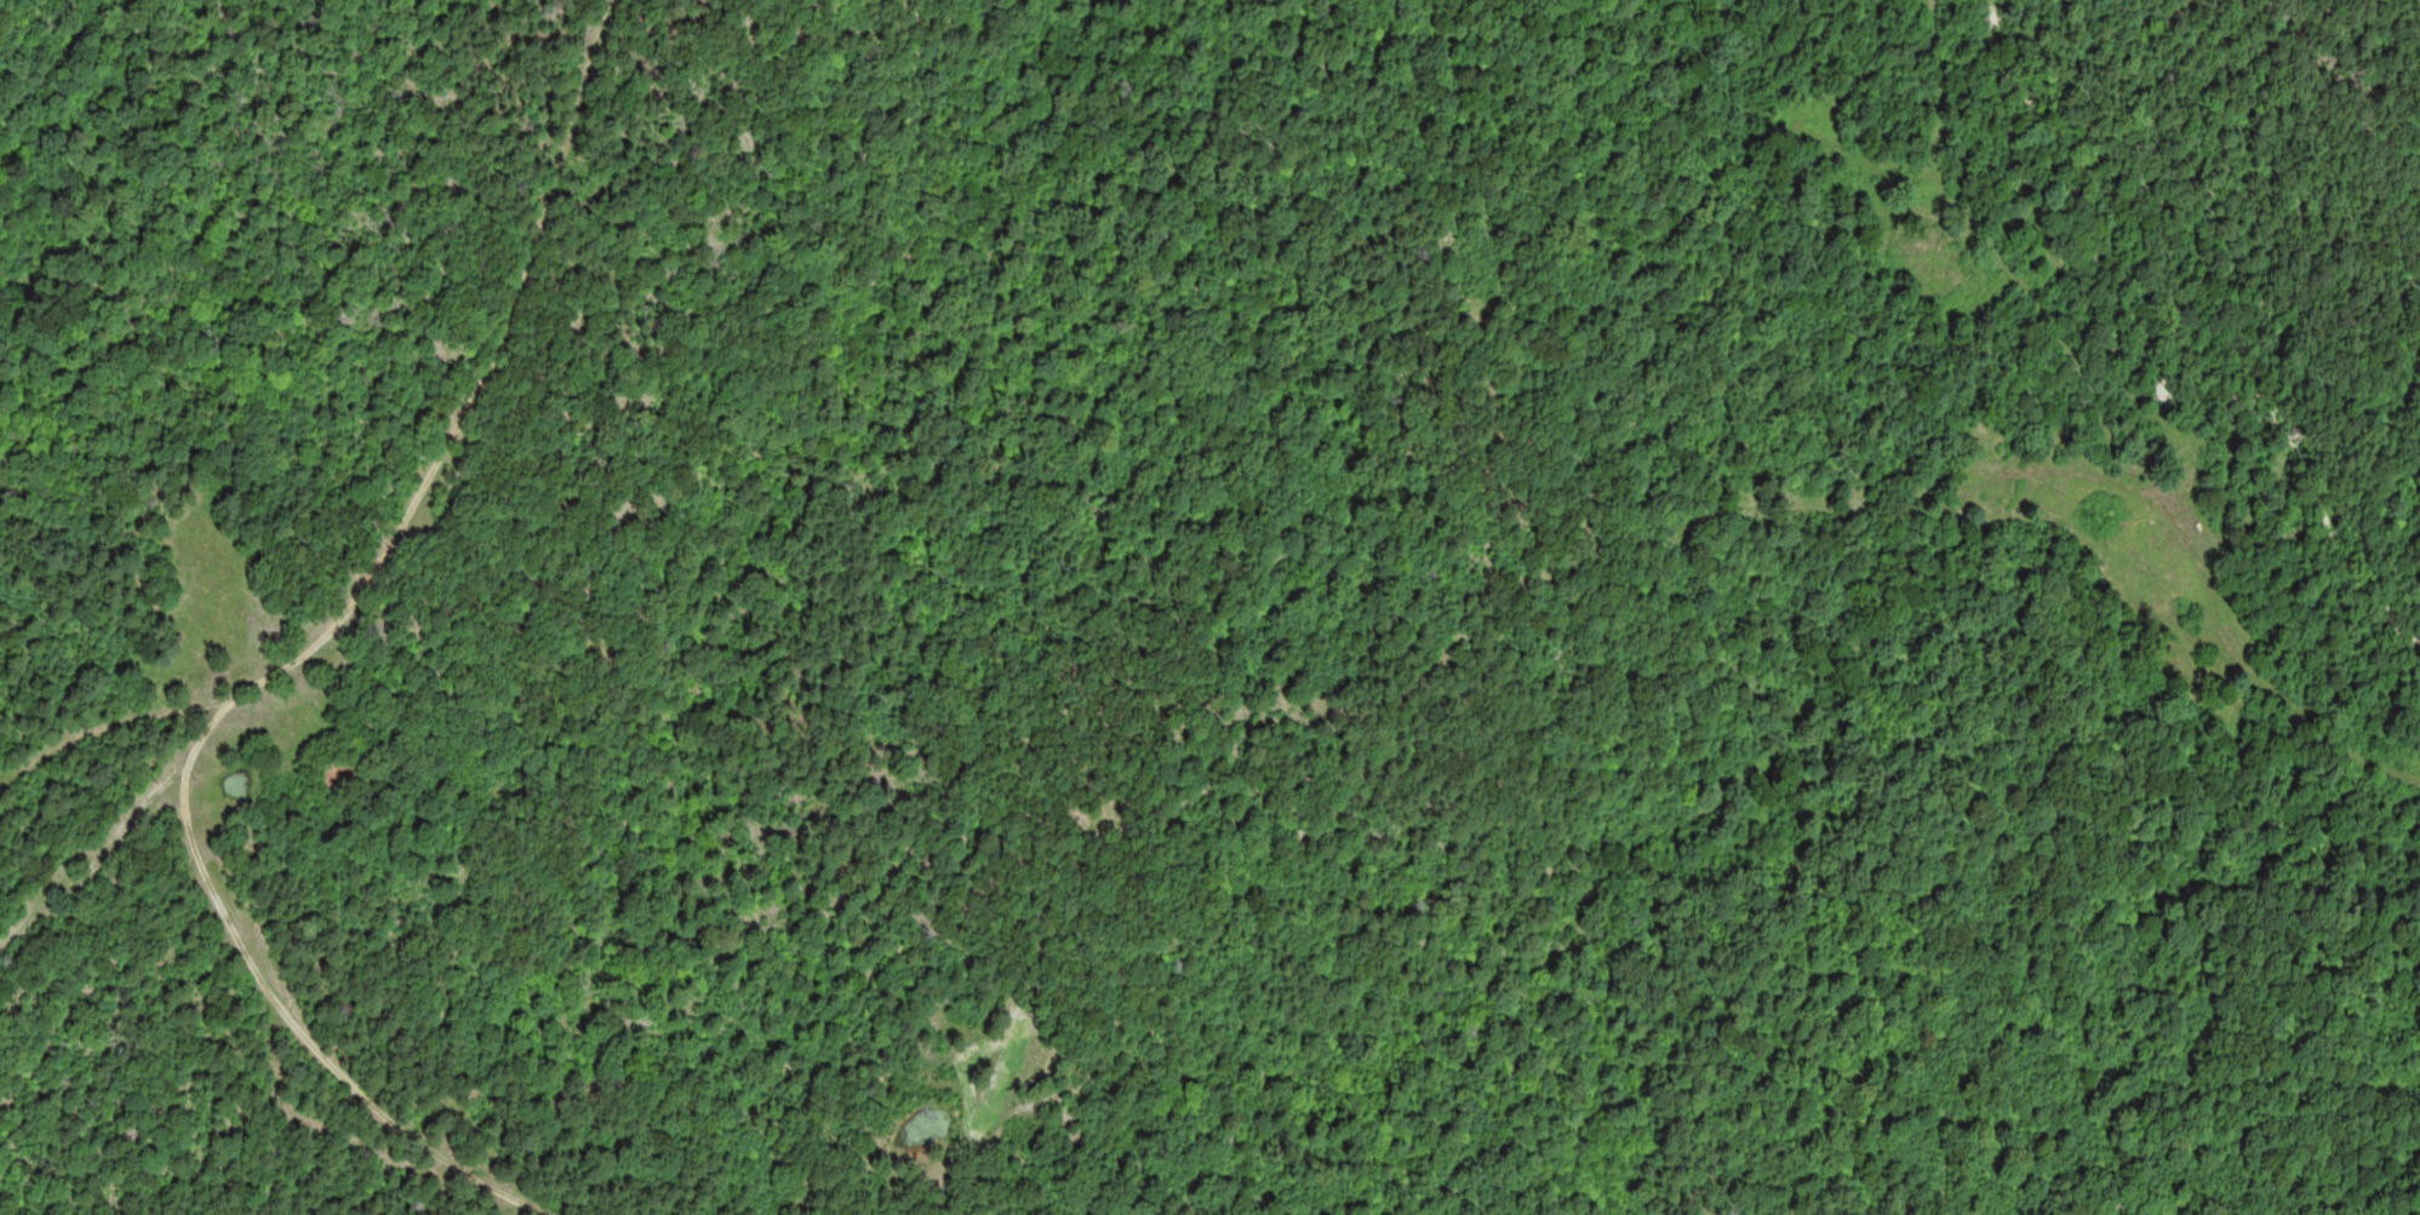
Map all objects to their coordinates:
road: (497, 353)

